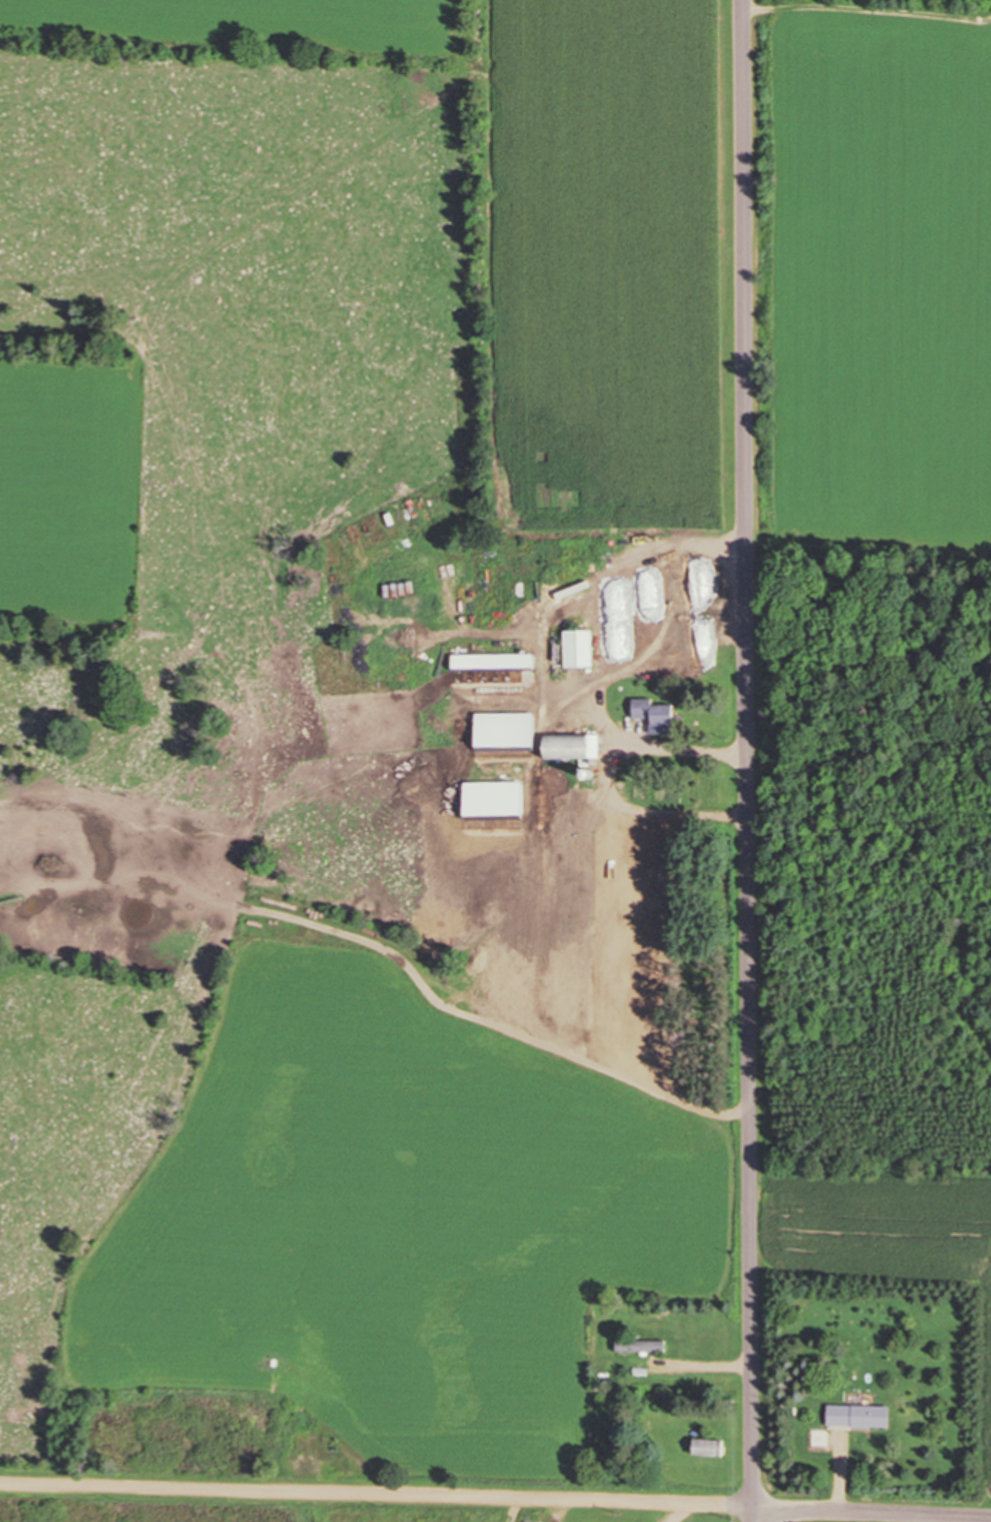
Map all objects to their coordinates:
building: (575, 648)
building: (653, 715)
building: (549, 746)
road: (750, 761)
building: (639, 1345)
building: (857, 1415)
building: (819, 1438)
building: (705, 1447)
road: (495, 1500)

